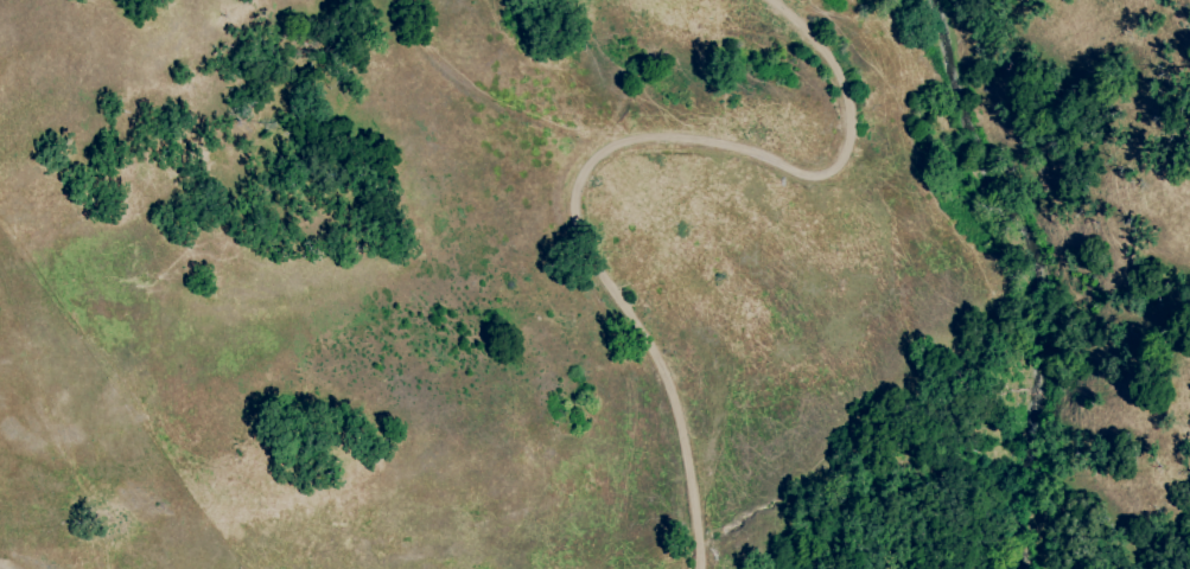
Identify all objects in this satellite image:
road: (597, 158)

